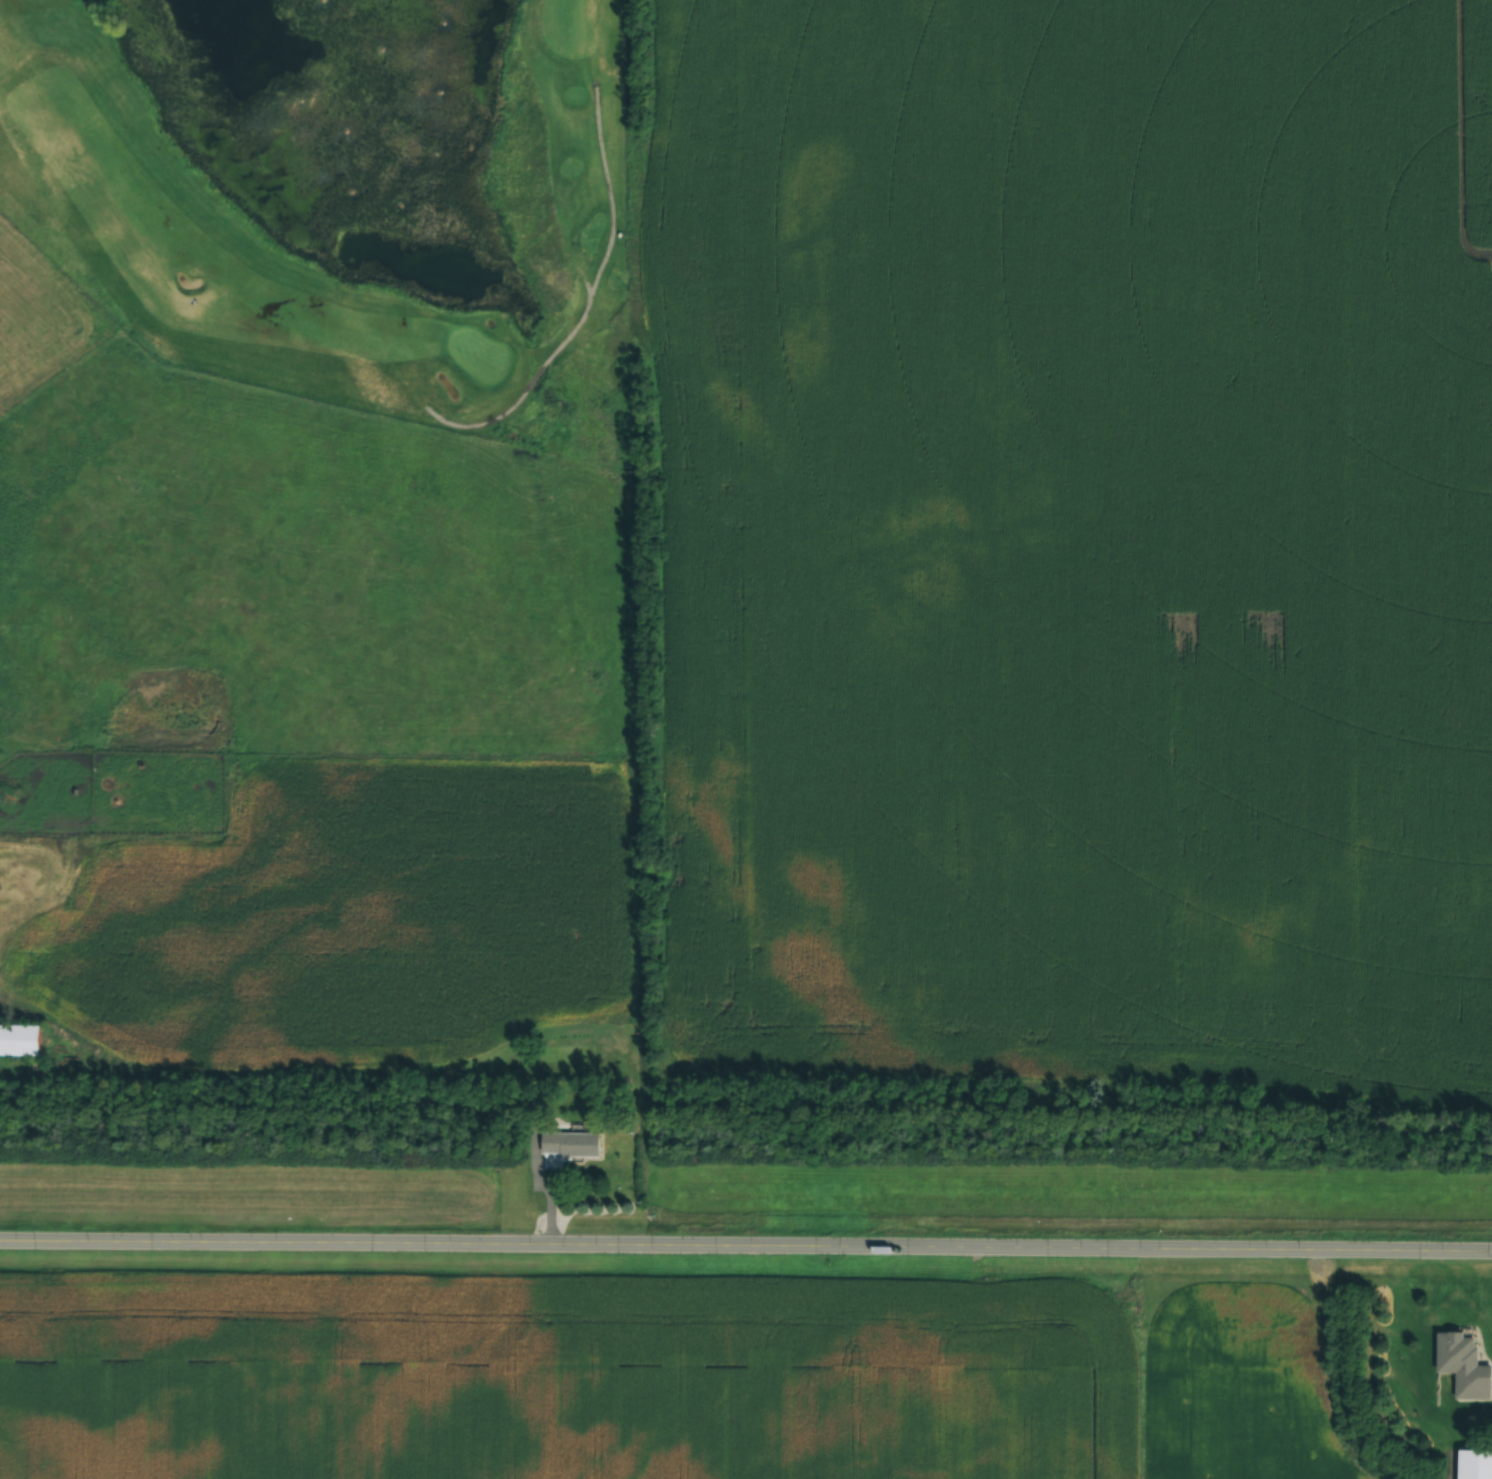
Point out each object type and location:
road: (604, 193)
park: (344, 198)
road: (584, 288)
road: (522, 393)
building: (18, 1041)
building: (573, 1144)
road: (746, 1242)
building: (1460, 1365)
crop: (565, 1376)
building: (1475, 1464)

